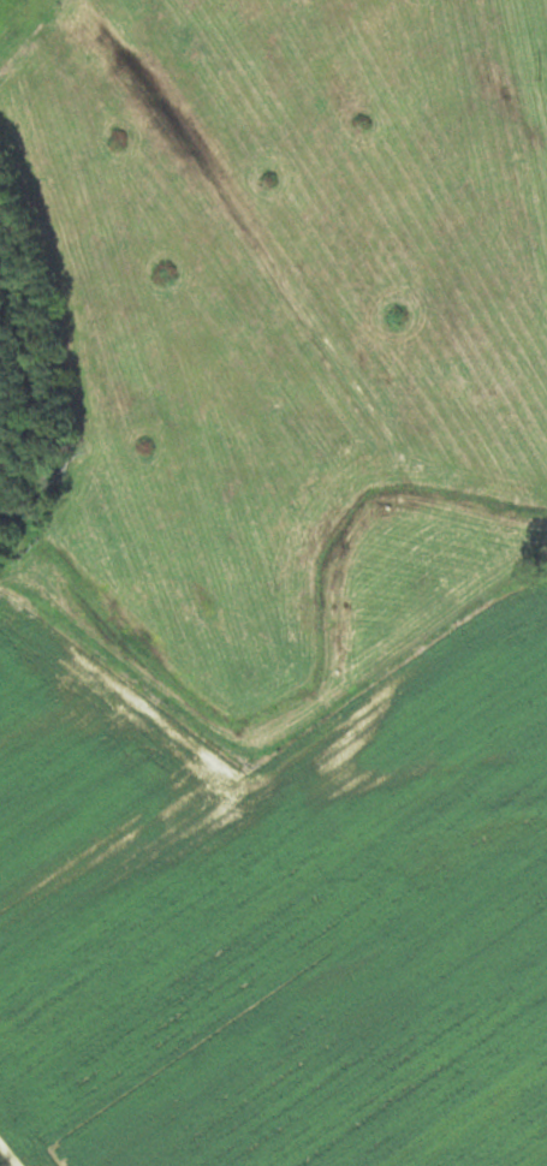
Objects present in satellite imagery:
power tower: (539, 77)
road: (6, 1158)

